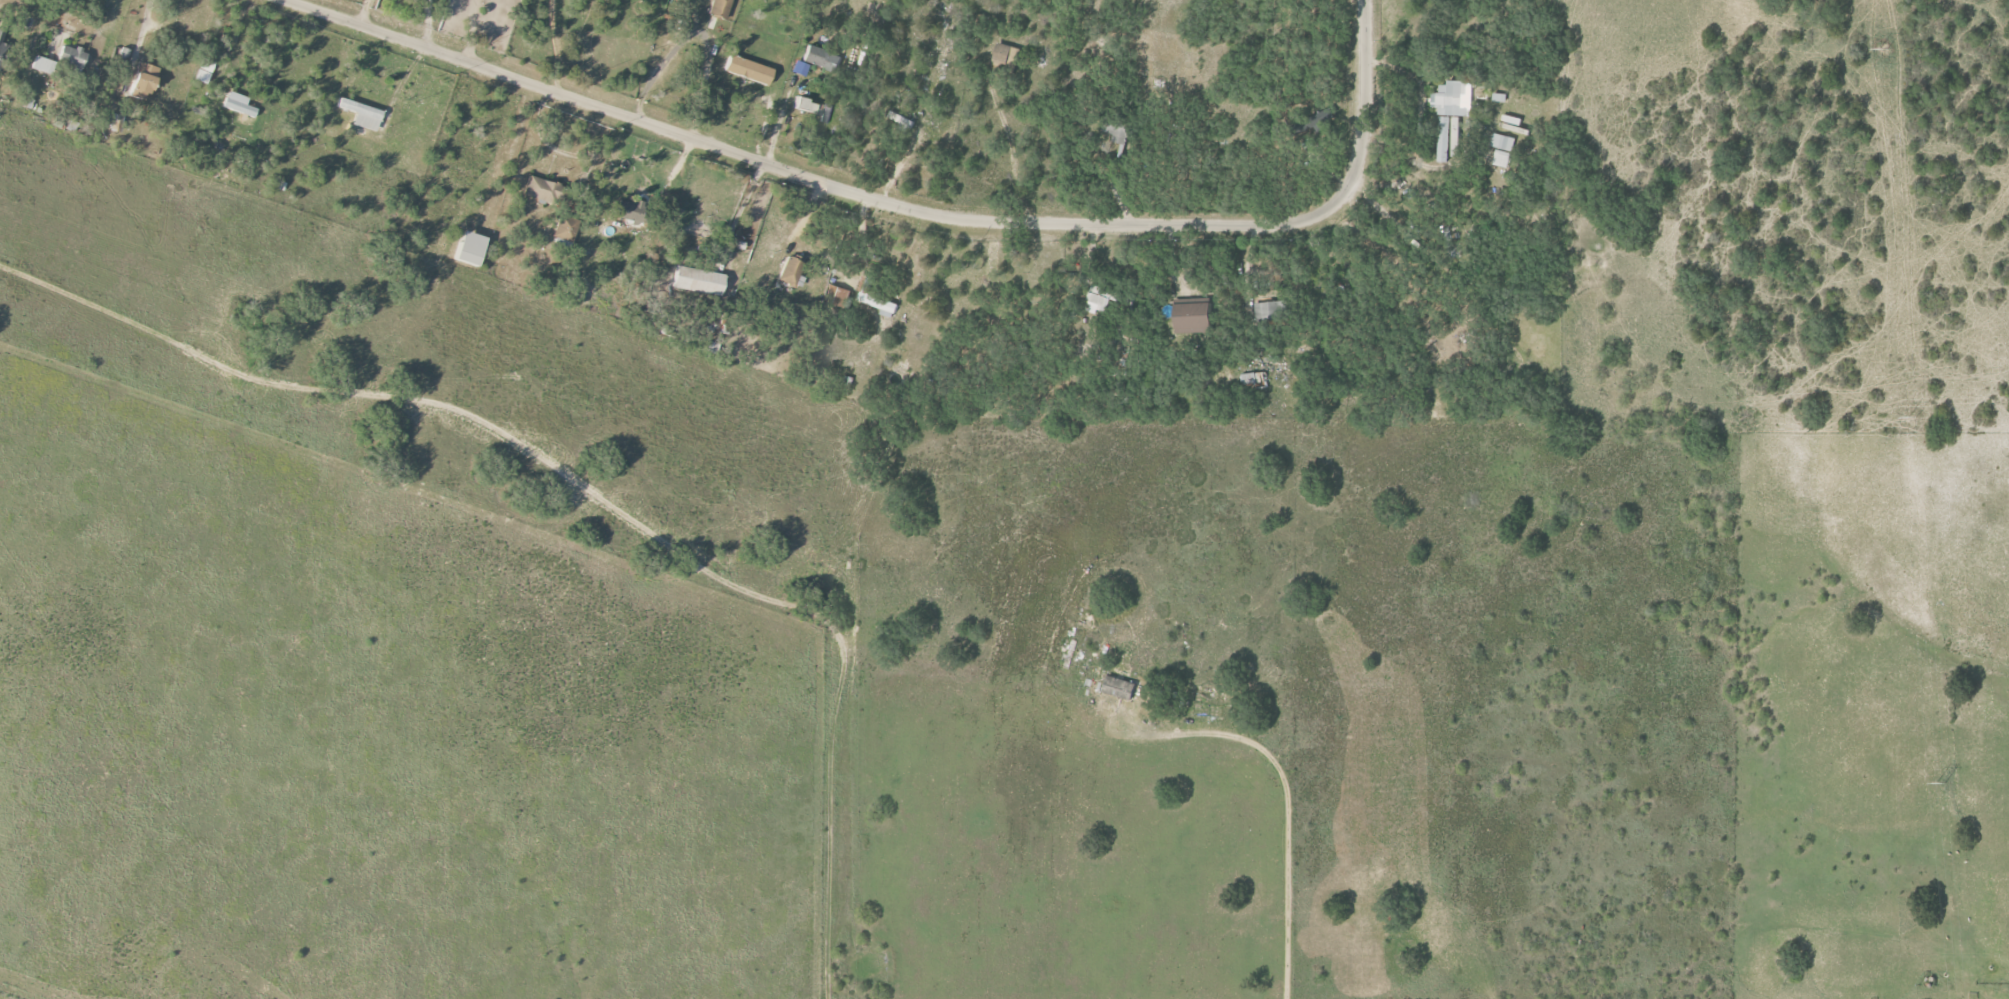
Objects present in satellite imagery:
building: (720, 8)
road: (142, 29)
road: (697, 32)
road: (554, 45)
power tower: (1884, 48)
building: (2, 51)
building: (1004, 55)
building: (72, 58)
building: (823, 59)
building: (41, 65)
building: (749, 71)
building: (205, 72)
building: (144, 82)
building: (238, 105)
building: (814, 109)
building: (362, 115)
building: (1450, 118)
building: (115, 123)
building: (1117, 134)
building: (1502, 142)
building: (1501, 158)
building: (542, 190)
road: (902, 206)
building: (628, 211)
building: (566, 228)
building: (1454, 243)
building: (472, 249)
building: (790, 272)
building: (699, 282)
building: (836, 295)
building: (877, 300)
building: (1095, 304)
building: (1266, 311)
building: (1196, 317)
building: (1253, 379)
power tower: (1910, 416)
building: (1121, 688)
power tower: (1941, 783)
road: (1284, 799)

